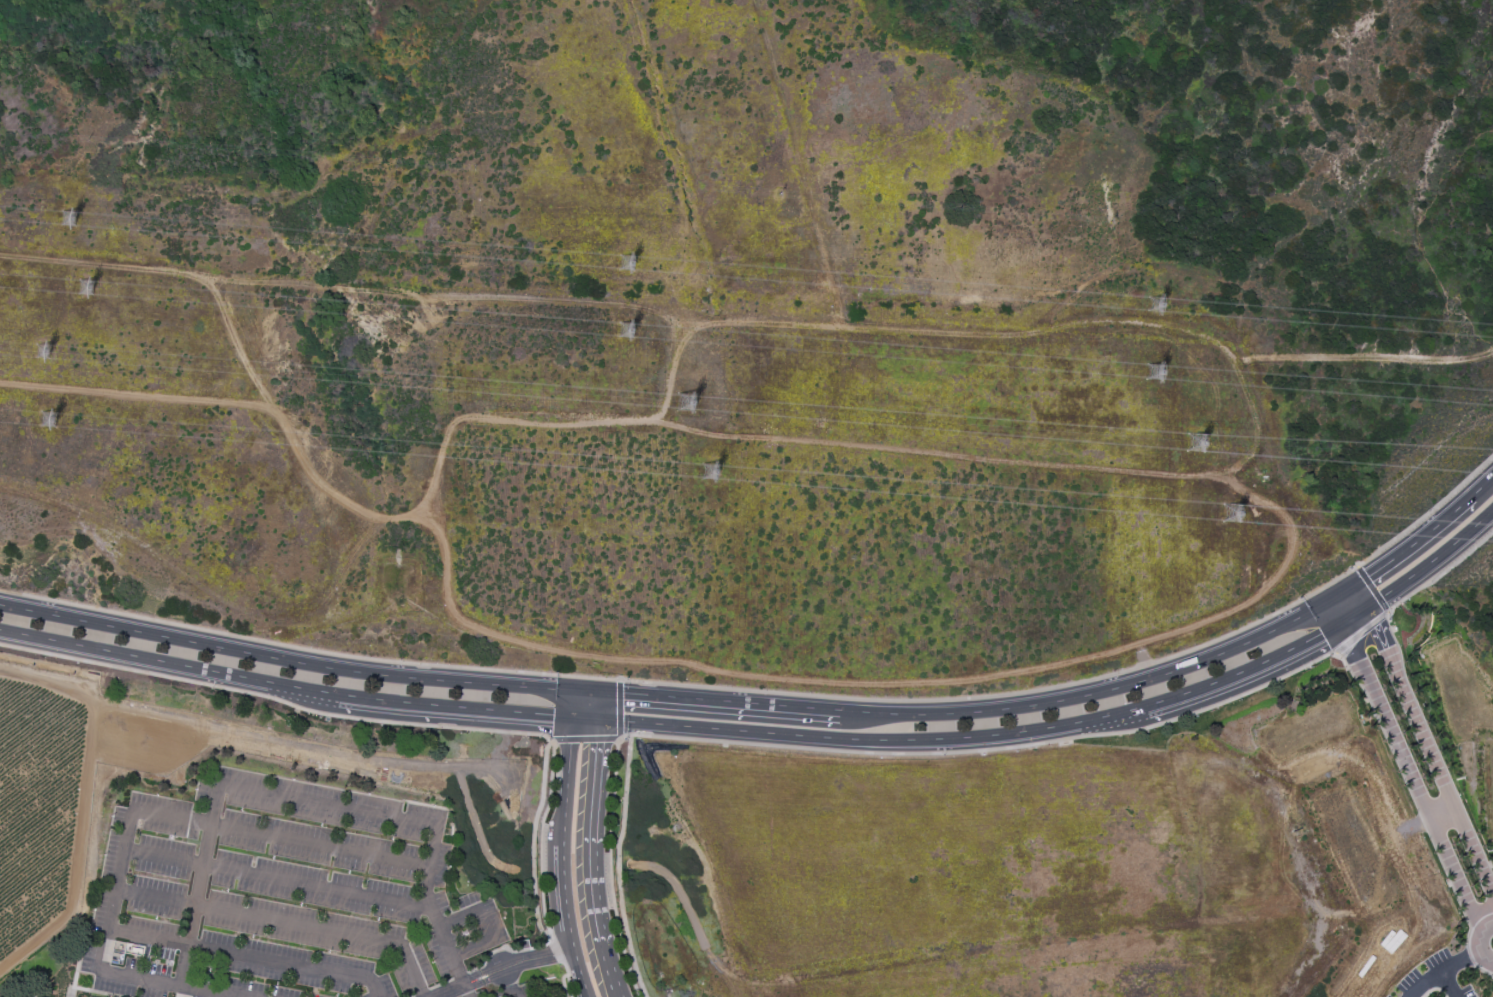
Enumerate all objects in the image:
power tower: (69, 222)
power tower: (627, 267)
power tower: (88, 293)
power tower: (1163, 305)
power tower: (625, 334)
power tower: (42, 356)
road: (1364, 358)
power tower: (1158, 369)
road: (1241, 383)
road: (142, 394)
power tower: (689, 404)
power tower: (49, 423)
power tower: (1233, 442)
power tower: (1196, 447)
road: (307, 468)
power tower: (711, 474)
road: (1483, 485)
power tower: (1238, 511)
road: (1416, 541)
power tower: (1302, 552)
road: (1433, 563)
street lamp: (1348, 568)
road: (1440, 575)
traffic signals: (1355, 583)
road: (1373, 590)
road: (11, 592)
road: (1339, 592)
road: (1363, 596)
street lamp: (1298, 598)
traffic signals: (1324, 602)
traffic signals: (1371, 609)
street lamp: (1388, 613)
road: (1331, 614)
road: (1355, 618)
traffic signals: (1339, 627)
road: (1363, 638)
road: (286, 659)
street lamp: (1337, 661)
road: (170, 665)
street lamp: (1309, 667)
street lamp: (1111, 671)
road: (1244, 671)
street lamp: (555, 672)
street lamp: (625, 678)
road: (893, 684)
street lamp: (761, 688)
traffic signals: (576, 690)
road: (590, 691)
traffic signals: (604, 692)
road: (787, 694)
road: (1089, 694)
road: (721, 700)
road: (574, 705)
road: (602, 707)
road: (456, 709)
road: (374, 721)
traffic signals: (573, 721)
road: (587, 722)
traffic signals: (601, 723)
road: (624, 737)
road: (616, 739)
street lamp: (548, 740)
street lamp: (623, 740)
road: (874, 741)
road: (993, 749)
road: (1431, 751)
street lamp: (941, 756)
road: (1410, 778)
road: (567, 782)
road: (248, 791)
crop: (36, 803)
road: (1442, 814)
road: (193, 822)
road: (533, 839)
road: (593, 861)
building: (159, 866)
road: (617, 867)
road: (608, 869)
road: (273, 879)
building: (152, 894)
road: (564, 896)
road: (284, 922)
road: (485, 926)
road: (1477, 944)
road: (559, 954)
road: (244, 955)
road: (503, 968)
road: (1442, 971)
road: (580, 972)
parking lot: (1437, 976)
road: (509, 982)
road: (568, 982)
road: (1447, 984)
road: (564, 985)
road: (467, 991)
parking lot: (1389, 996)

